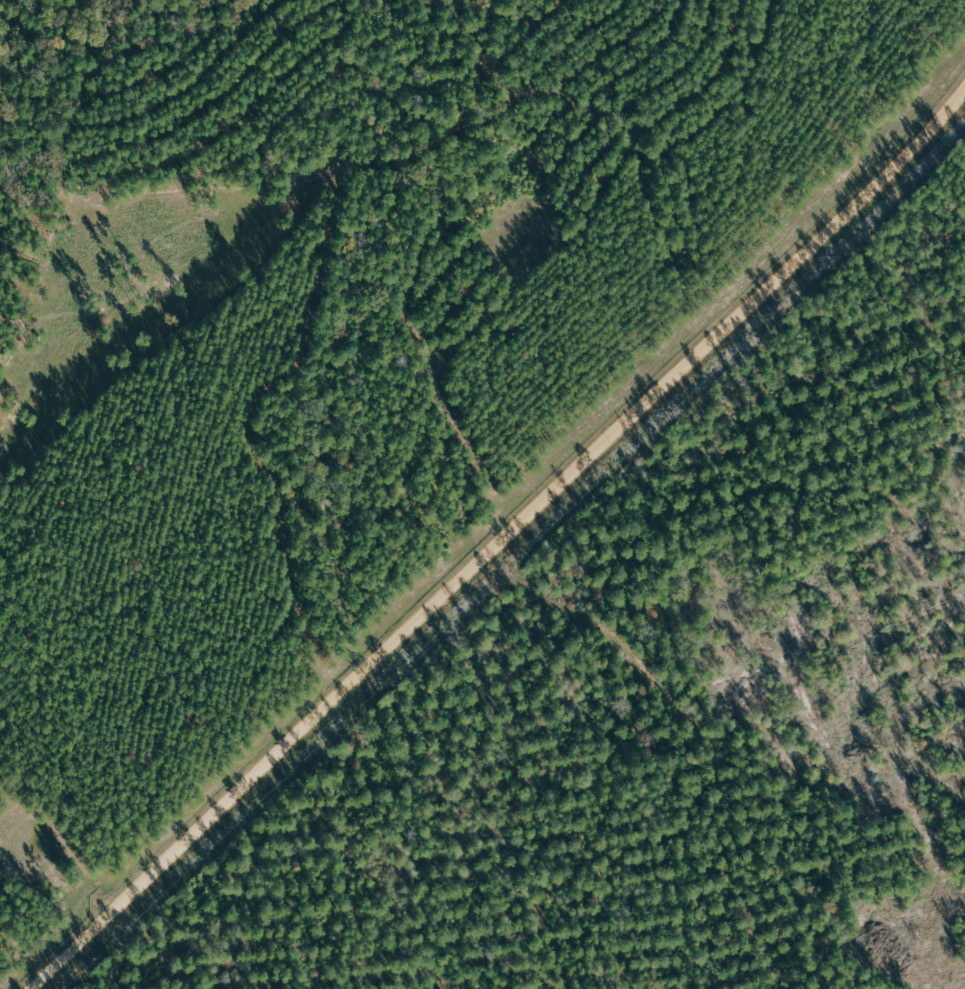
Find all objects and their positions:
road: (501, 541)

